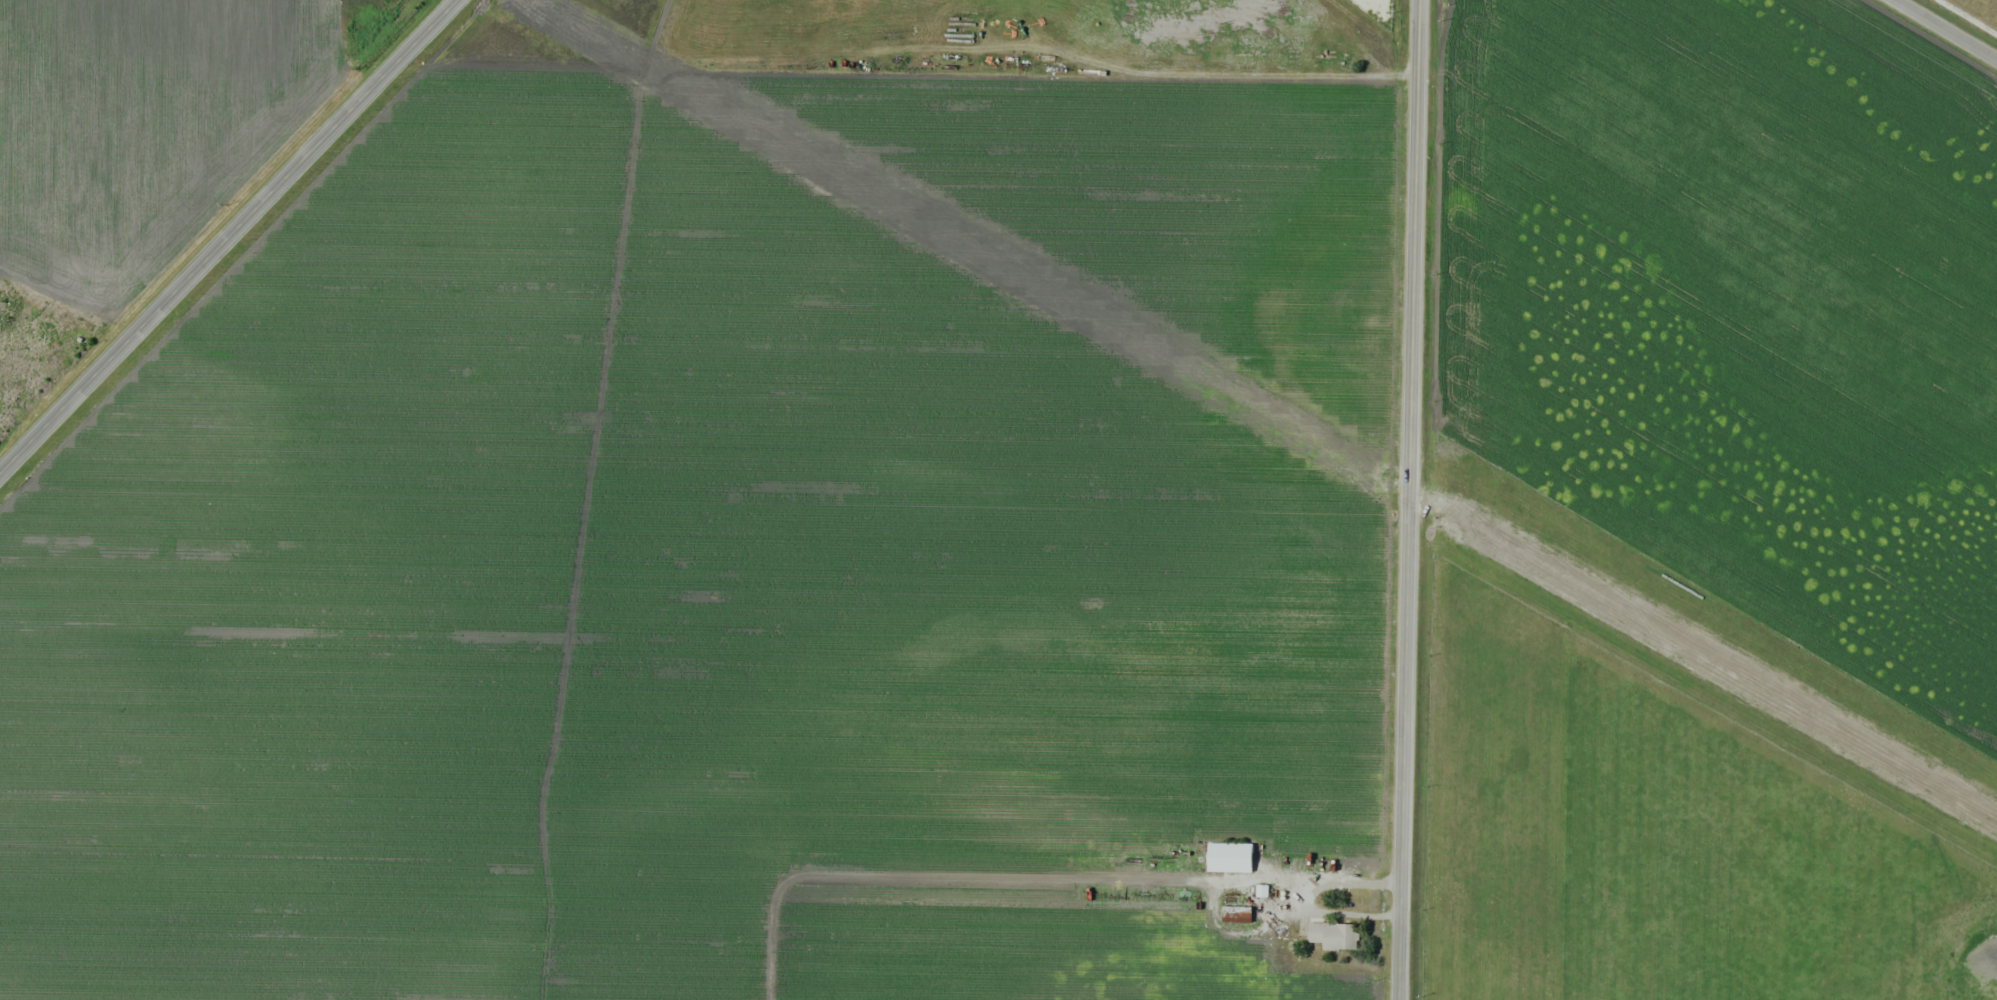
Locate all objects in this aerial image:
park: (1974, 12)
road: (1970, 15)
road: (1945, 31)
road: (228, 237)
road: (1411, 500)
building: (1229, 856)
building: (1235, 912)
building: (1333, 934)

